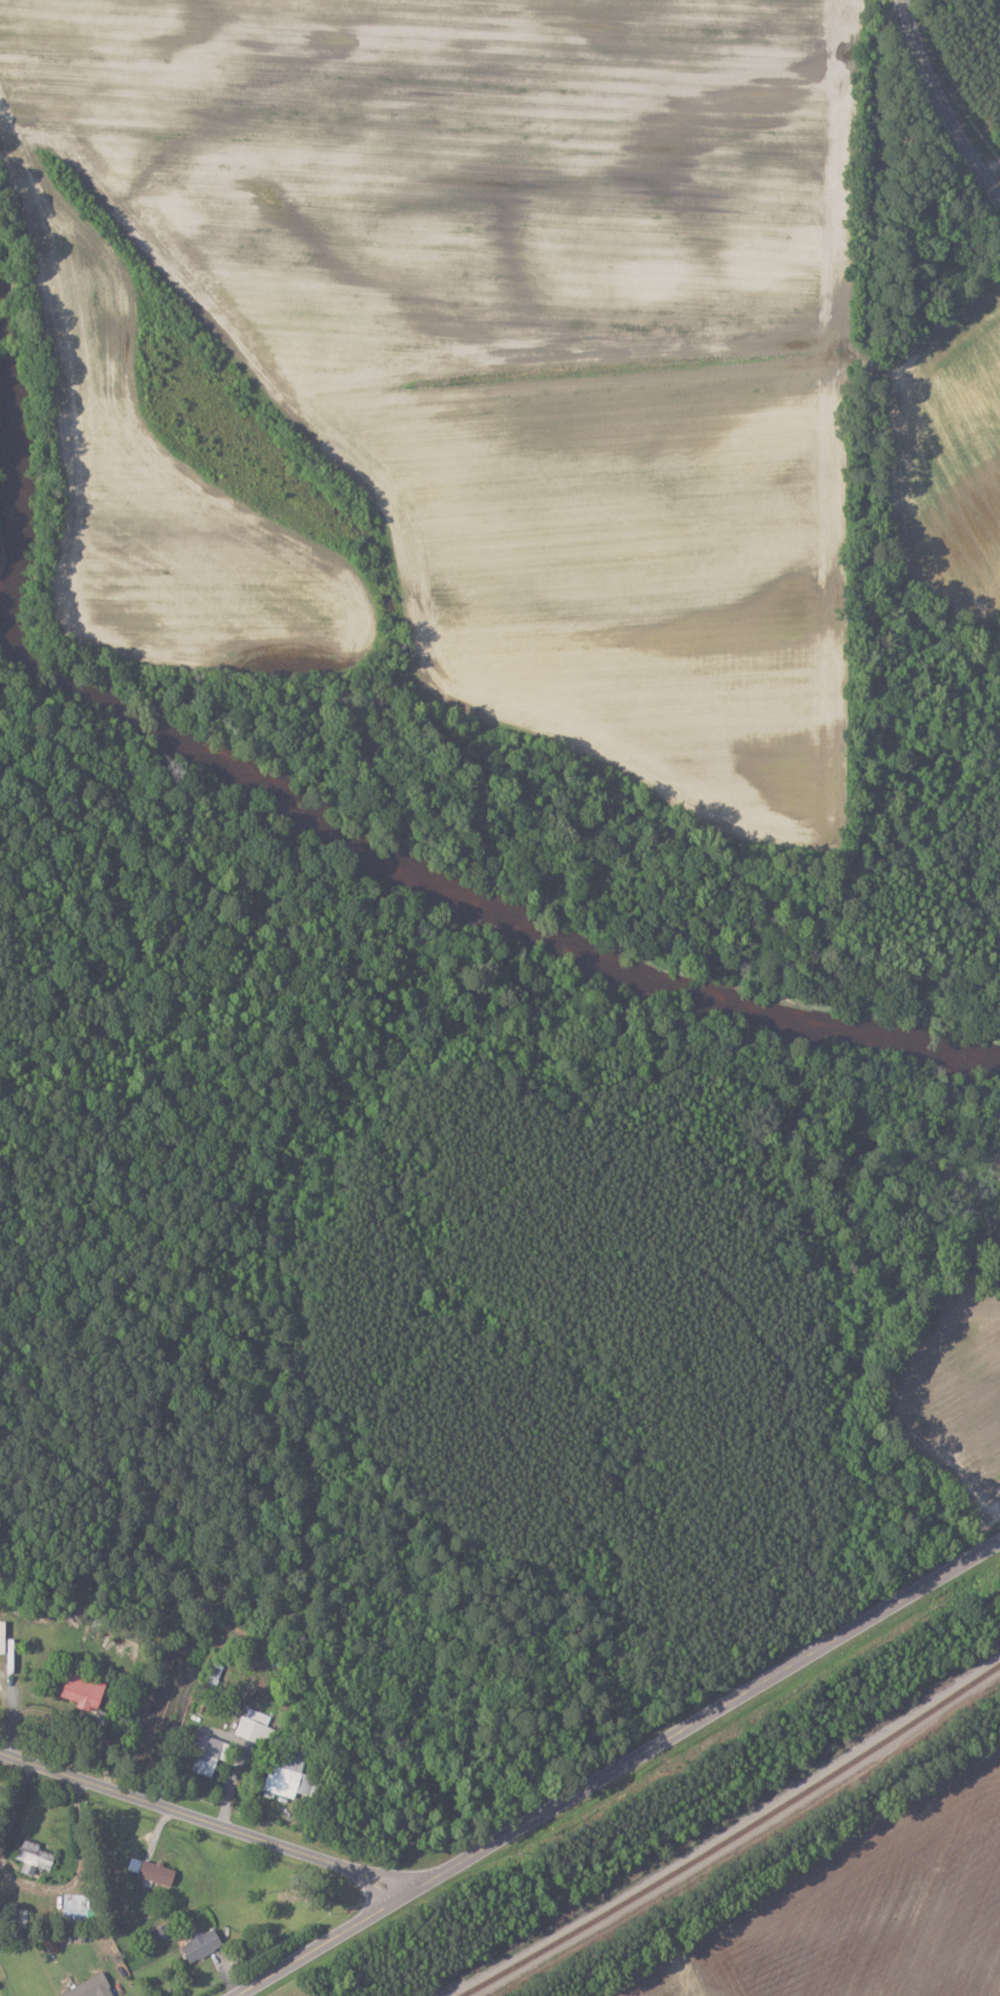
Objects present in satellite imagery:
road: (945, 99)
road: (990, 163)
river: (342, 821)
building: (2, 1636)
building: (215, 1672)
building: (83, 1688)
road: (704, 1715)
building: (256, 1727)
building: (209, 1753)
building: (282, 1780)
road: (203, 1819)
railway: (731, 1834)
building: (34, 1855)
building: (157, 1871)
building: (76, 1906)
road: (321, 1942)
building: (202, 1943)
building: (91, 1987)

